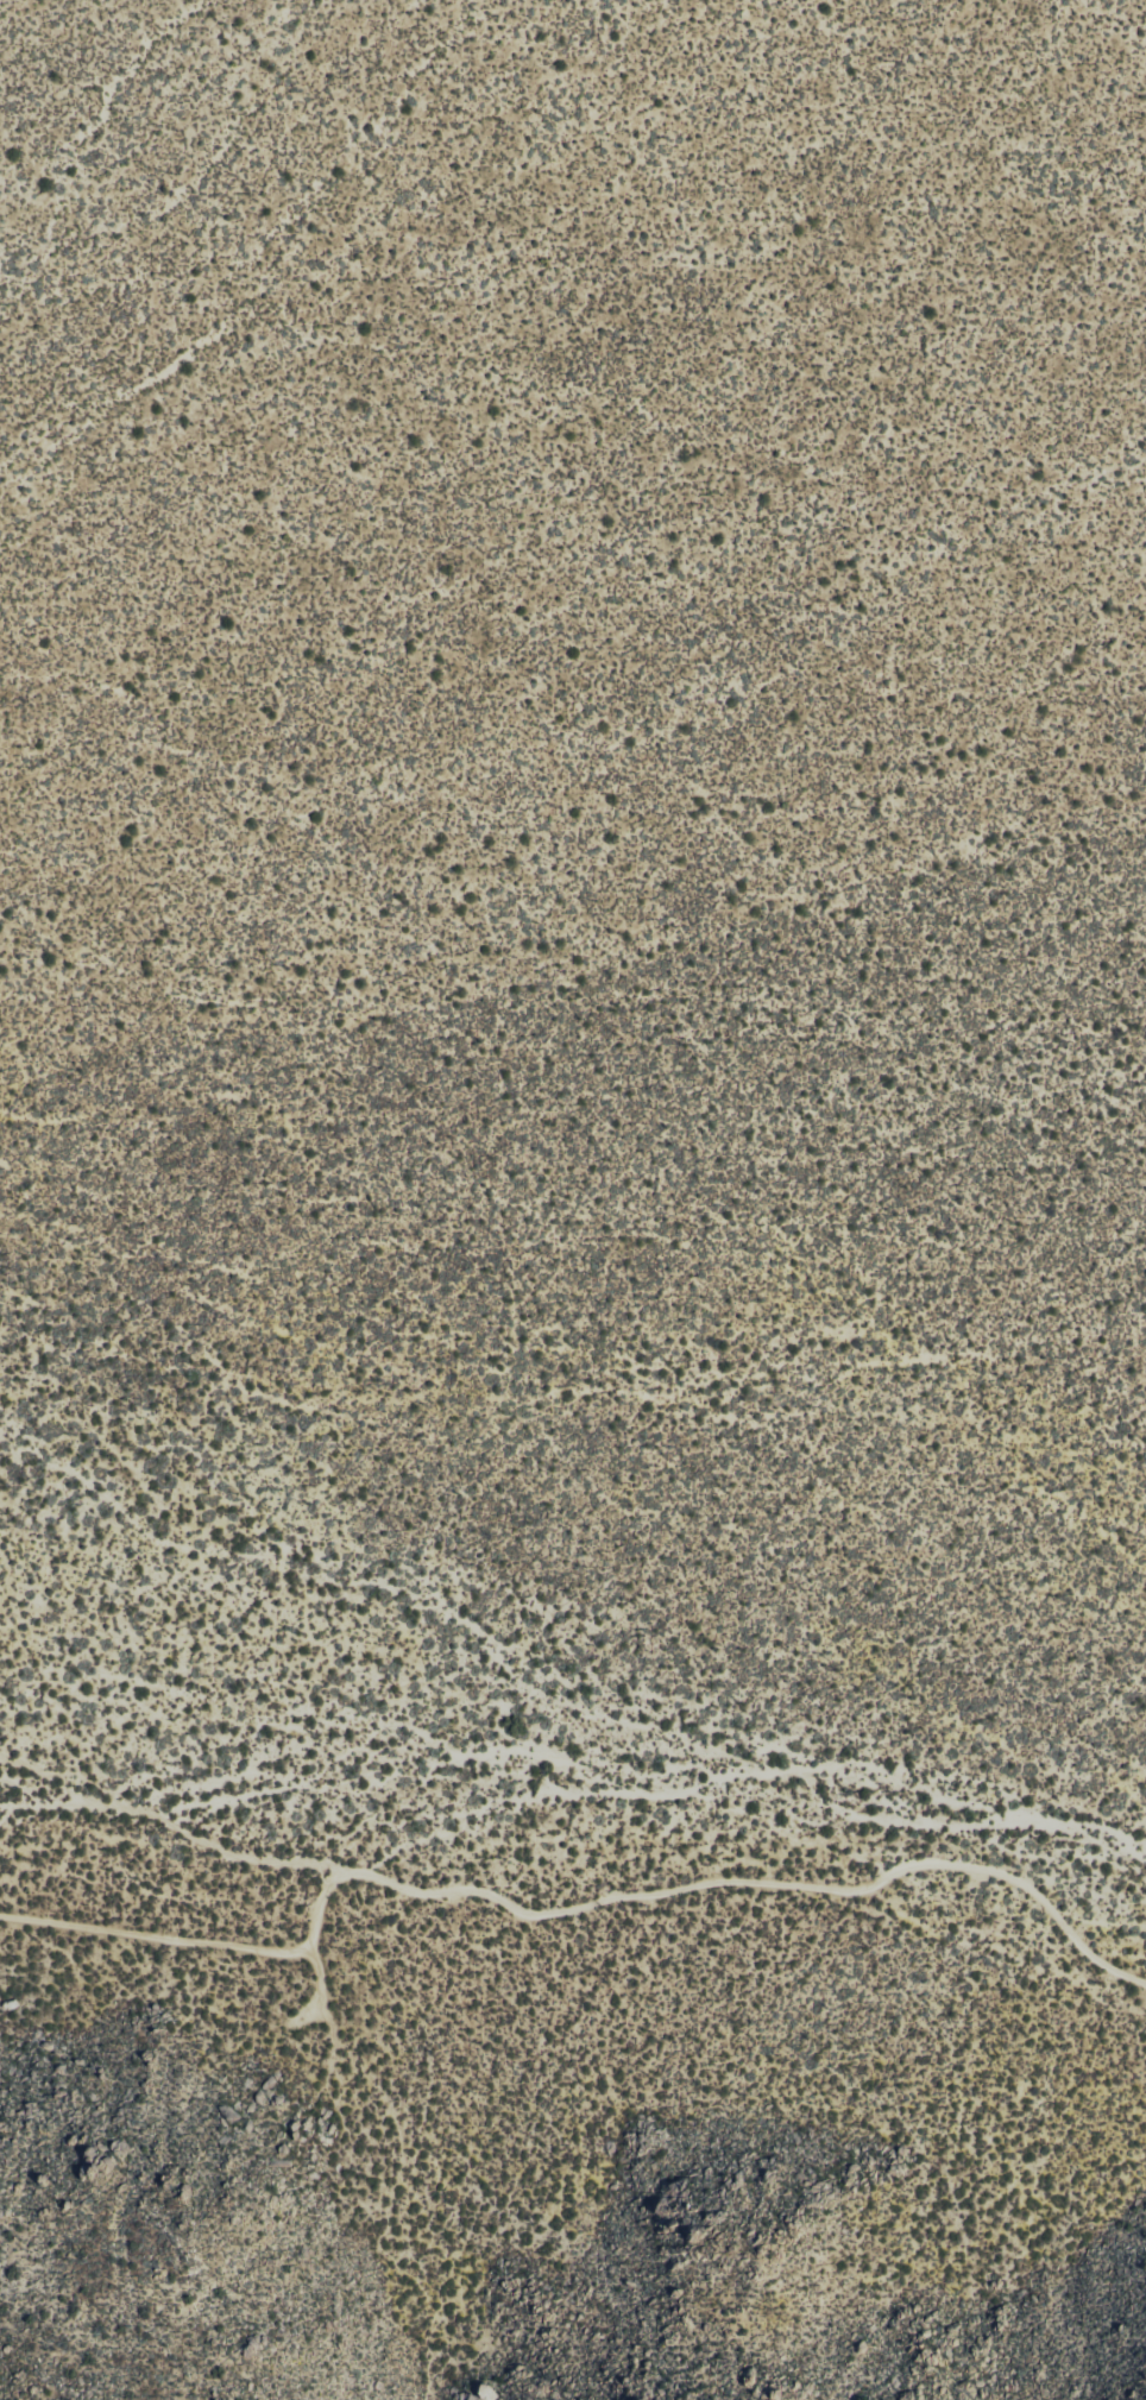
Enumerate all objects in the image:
road: (568, 1905)

